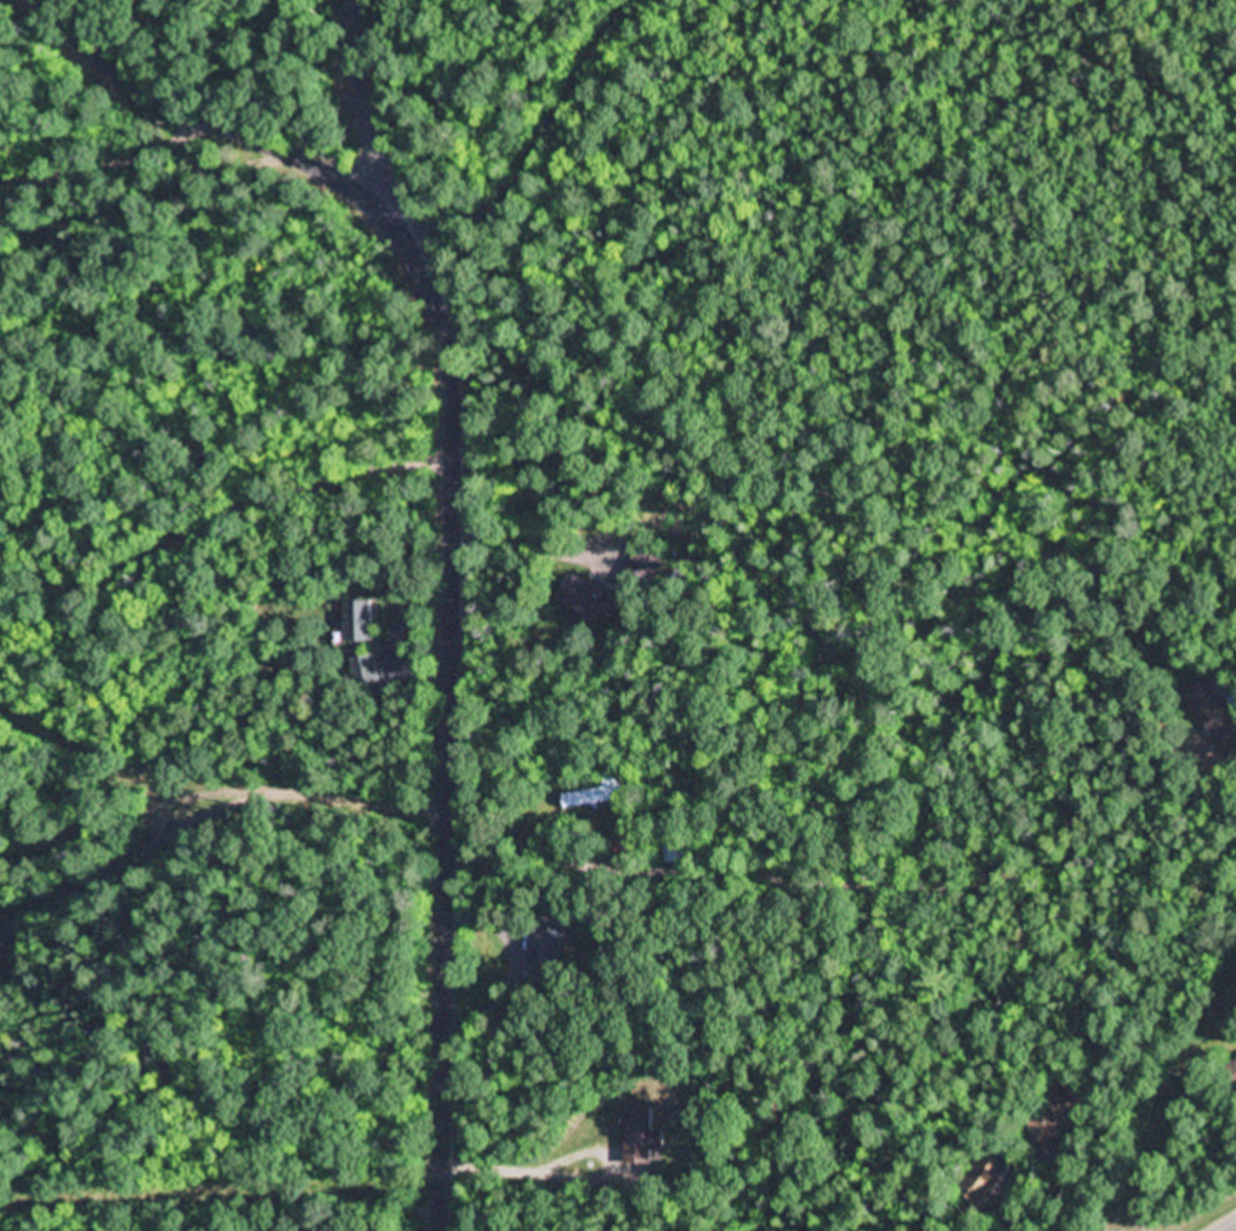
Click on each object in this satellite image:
road: (389, 138)
road: (457, 514)
building: (585, 594)
building: (358, 620)
building: (363, 669)
building: (1214, 713)
building: (594, 795)
building: (555, 941)
building: (1235, 1063)
building: (1056, 1119)
building: (641, 1138)
road: (1033, 1161)
building: (981, 1179)
road: (1109, 1187)
road: (1197, 1207)
road: (423, 1215)
road: (1235, 1230)

